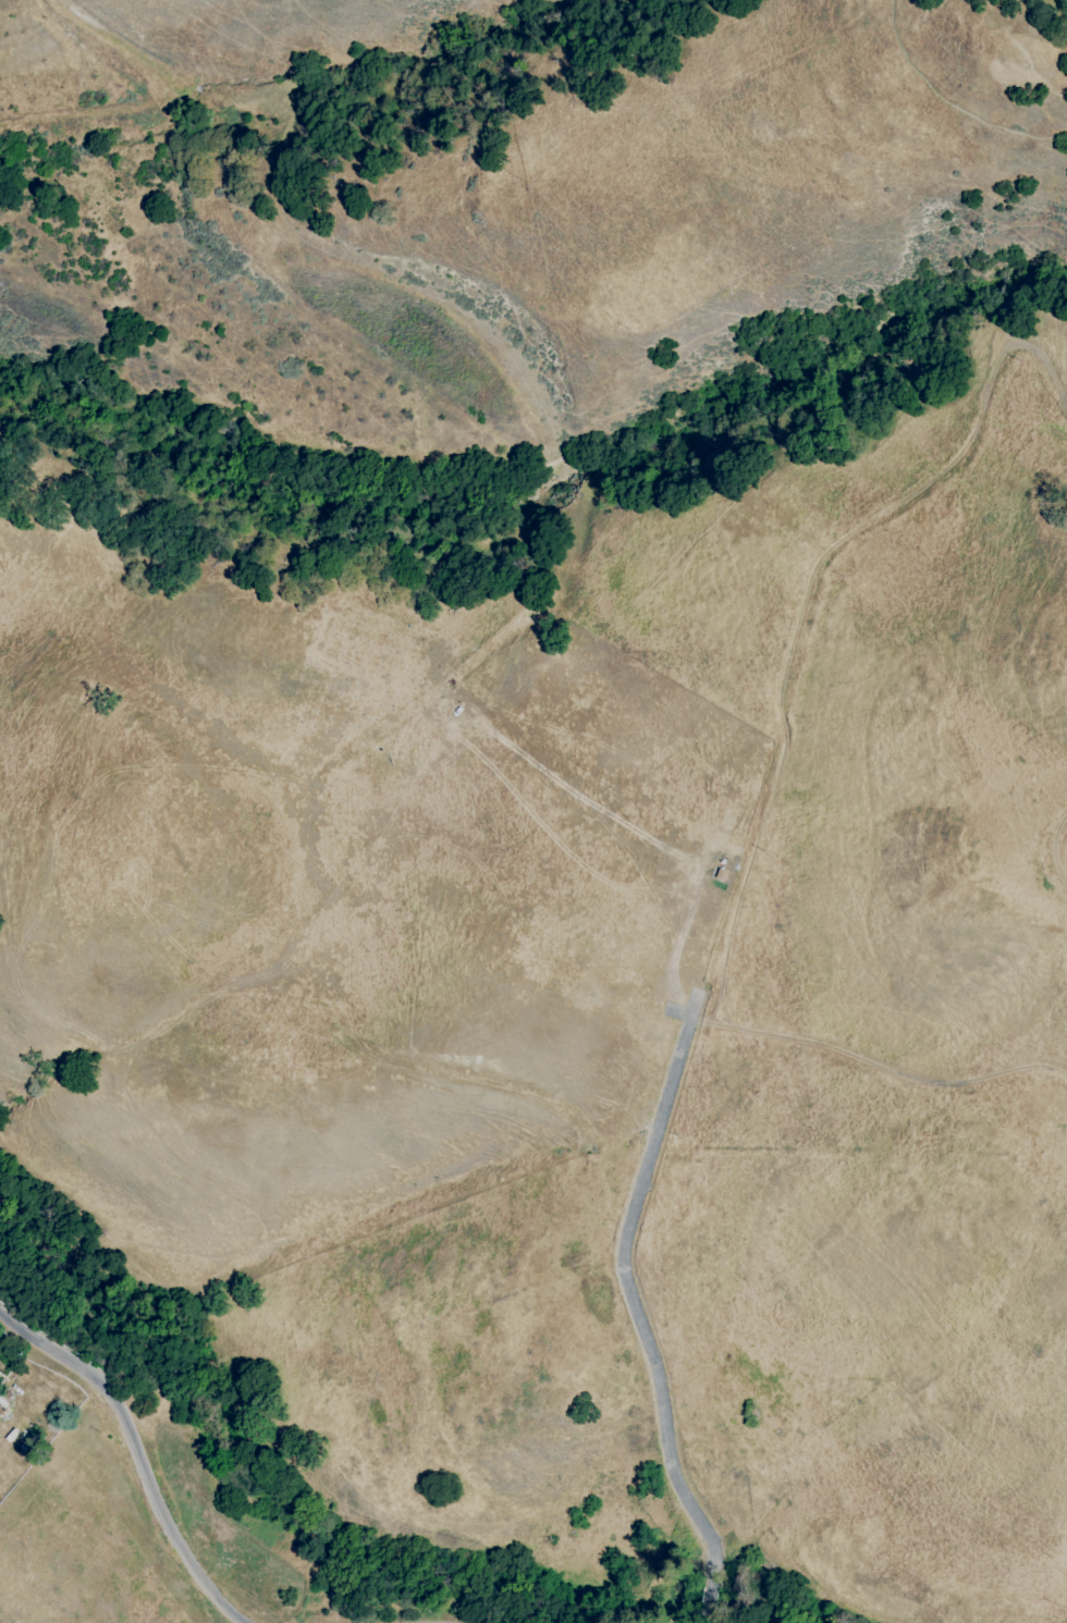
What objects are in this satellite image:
road: (634, 1313)
road: (138, 1454)

